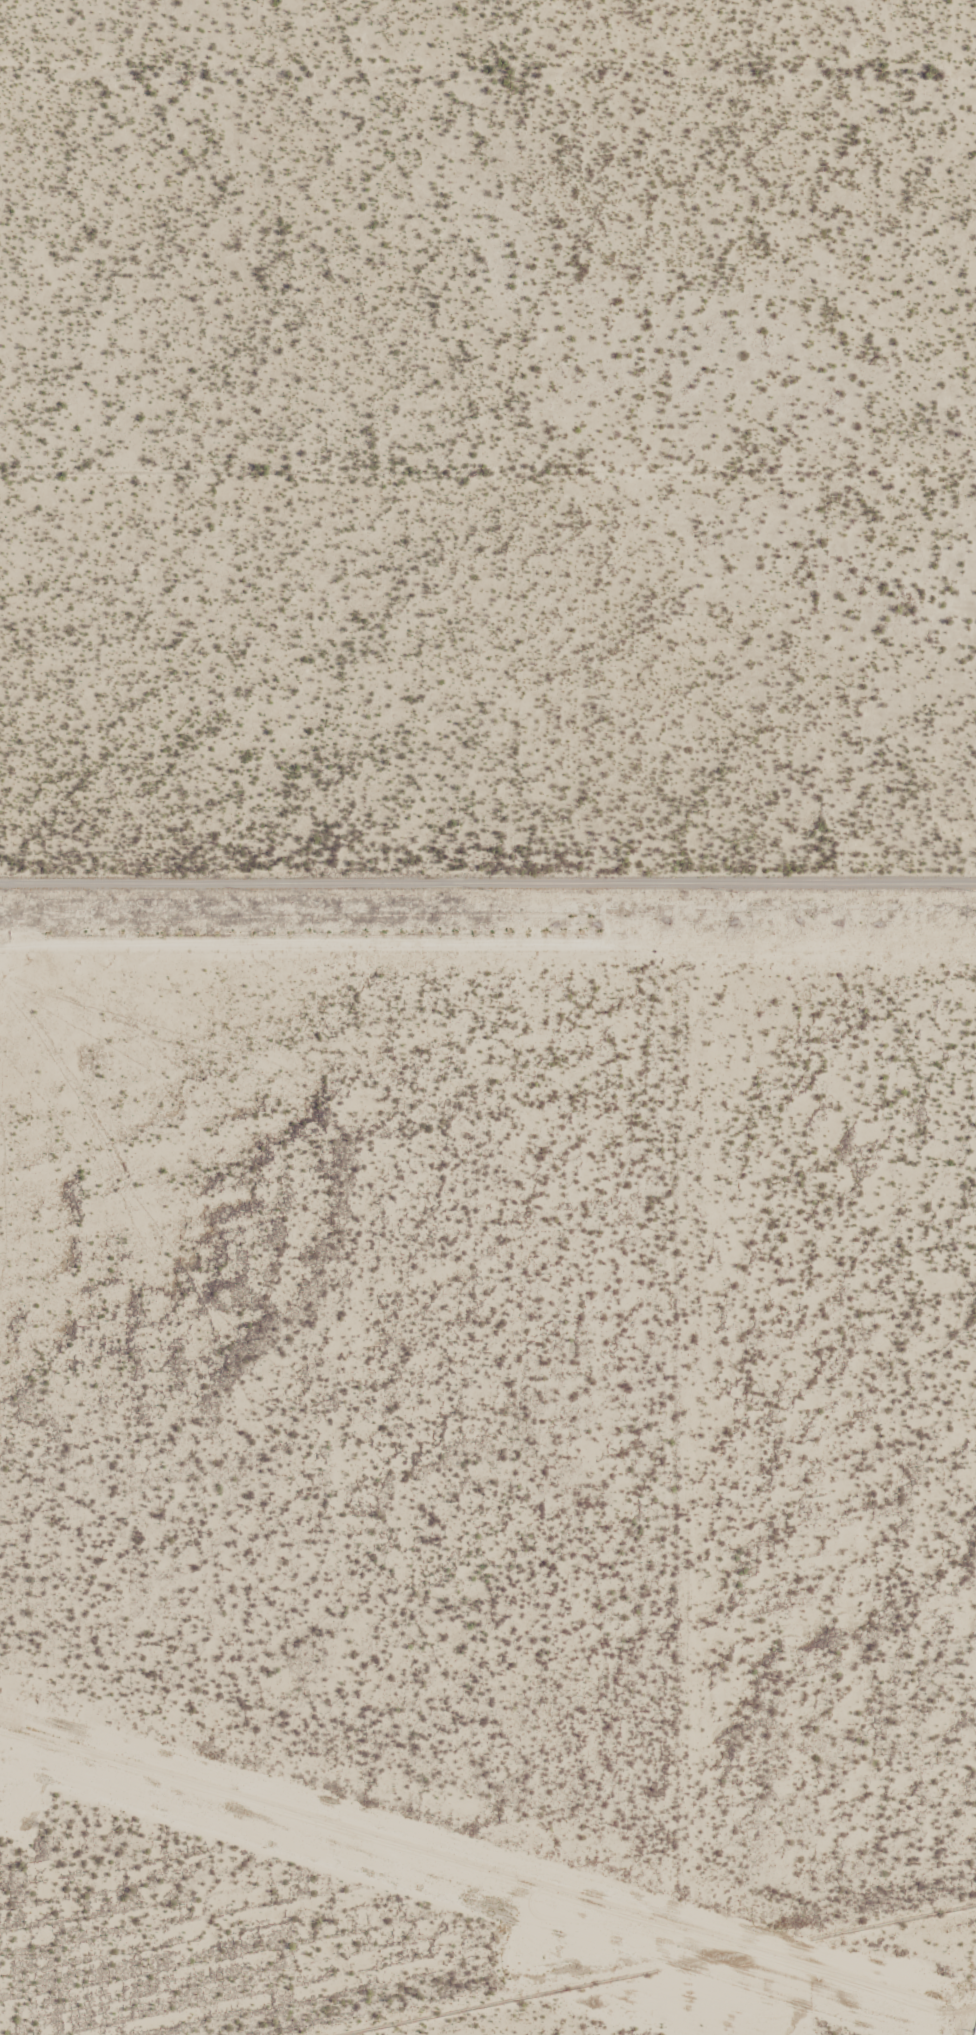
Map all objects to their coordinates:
road: (488, 911)

